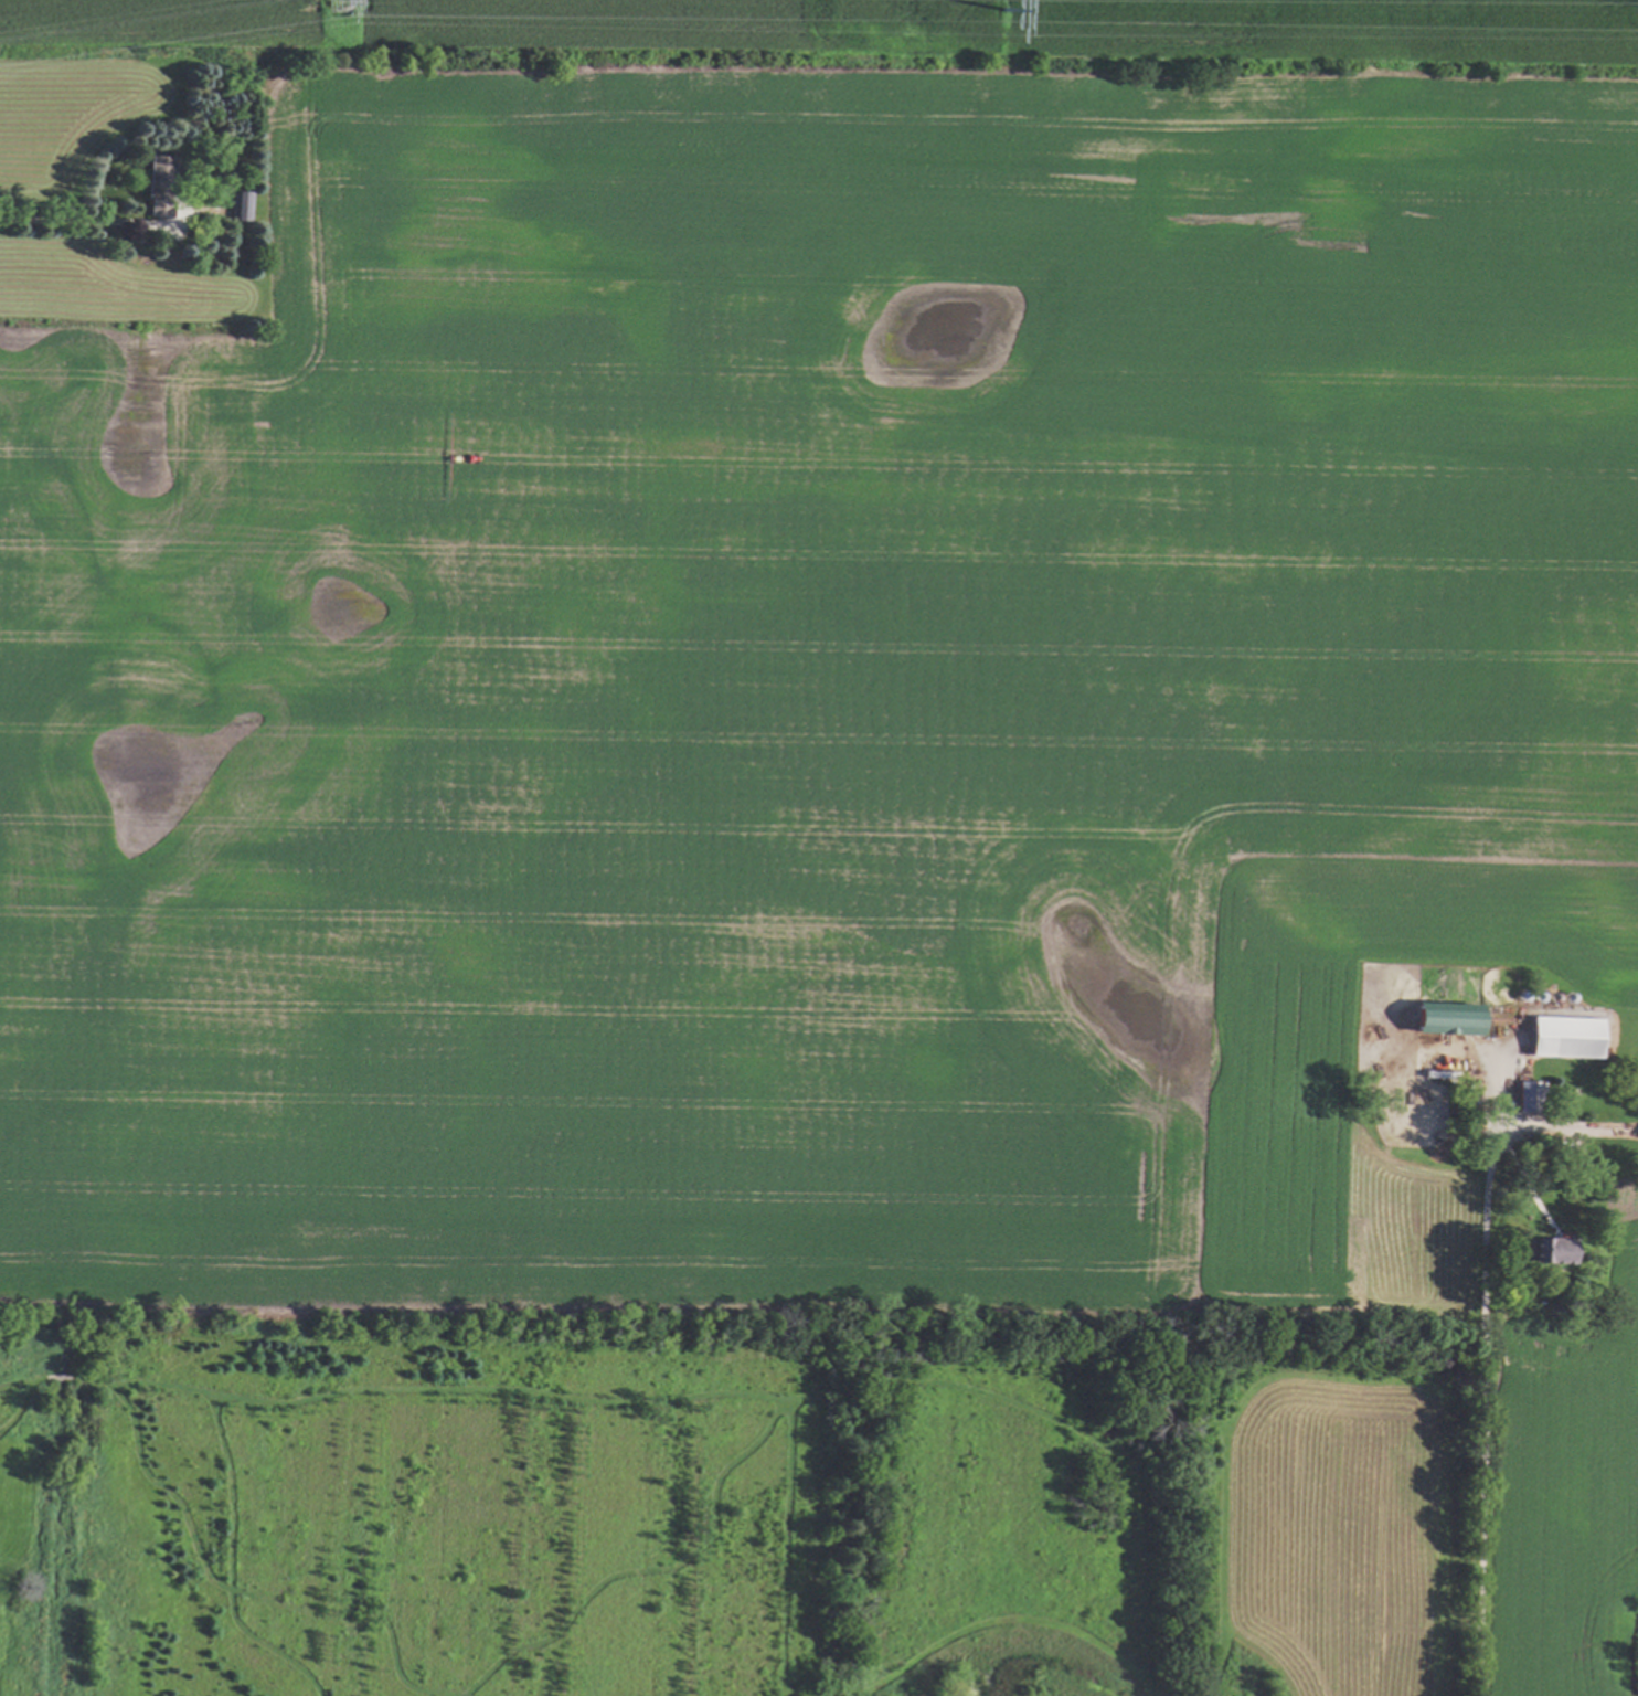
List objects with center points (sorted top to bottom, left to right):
power tower: (330, 11)
power tower: (1021, 22)
building: (158, 184)
building: (241, 205)
road: (85, 222)
crop: (788, 633)
building: (1443, 1016)
building: (1563, 1035)
building: (1525, 1095)
road: (1562, 1128)
building: (1637, 1130)
building: (1554, 1249)
road: (1483, 1375)
crop: (1439, 1512)

